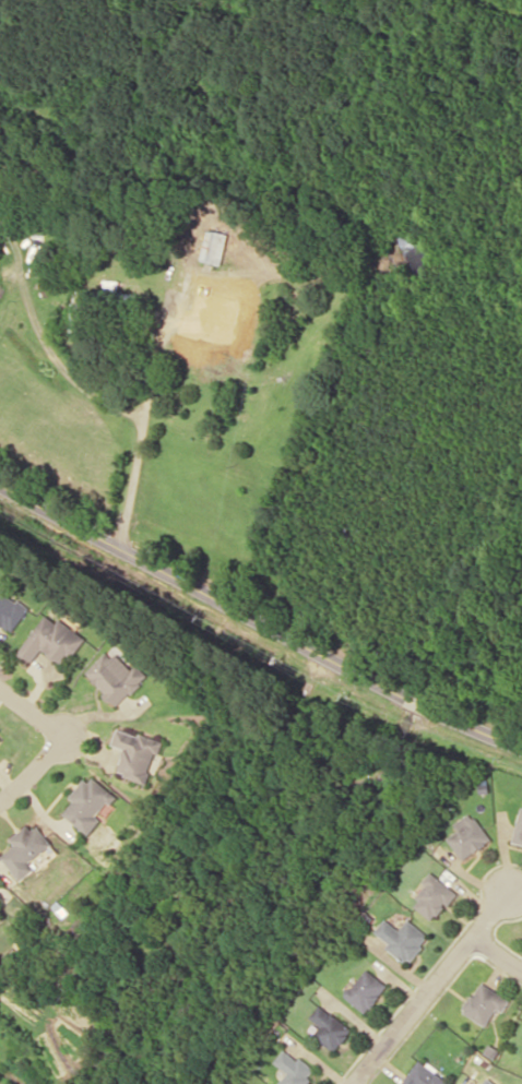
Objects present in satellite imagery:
building: (0, 165)
building: (108, 286)
building: (220, 299)
building: (10, 610)
road: (258, 620)
building: (52, 640)
building: (115, 676)
road: (29, 711)
building: (0, 736)
building: (137, 753)
road: (31, 766)
building: (90, 803)
building: (519, 825)
building: (468, 835)
building: (26, 849)
building: (434, 896)
building: (402, 938)
road: (499, 952)
road: (436, 987)
building: (366, 989)
building: (484, 1002)
building: (330, 1027)
building: (294, 1068)
building: (424, 1075)
building: (486, 1081)

